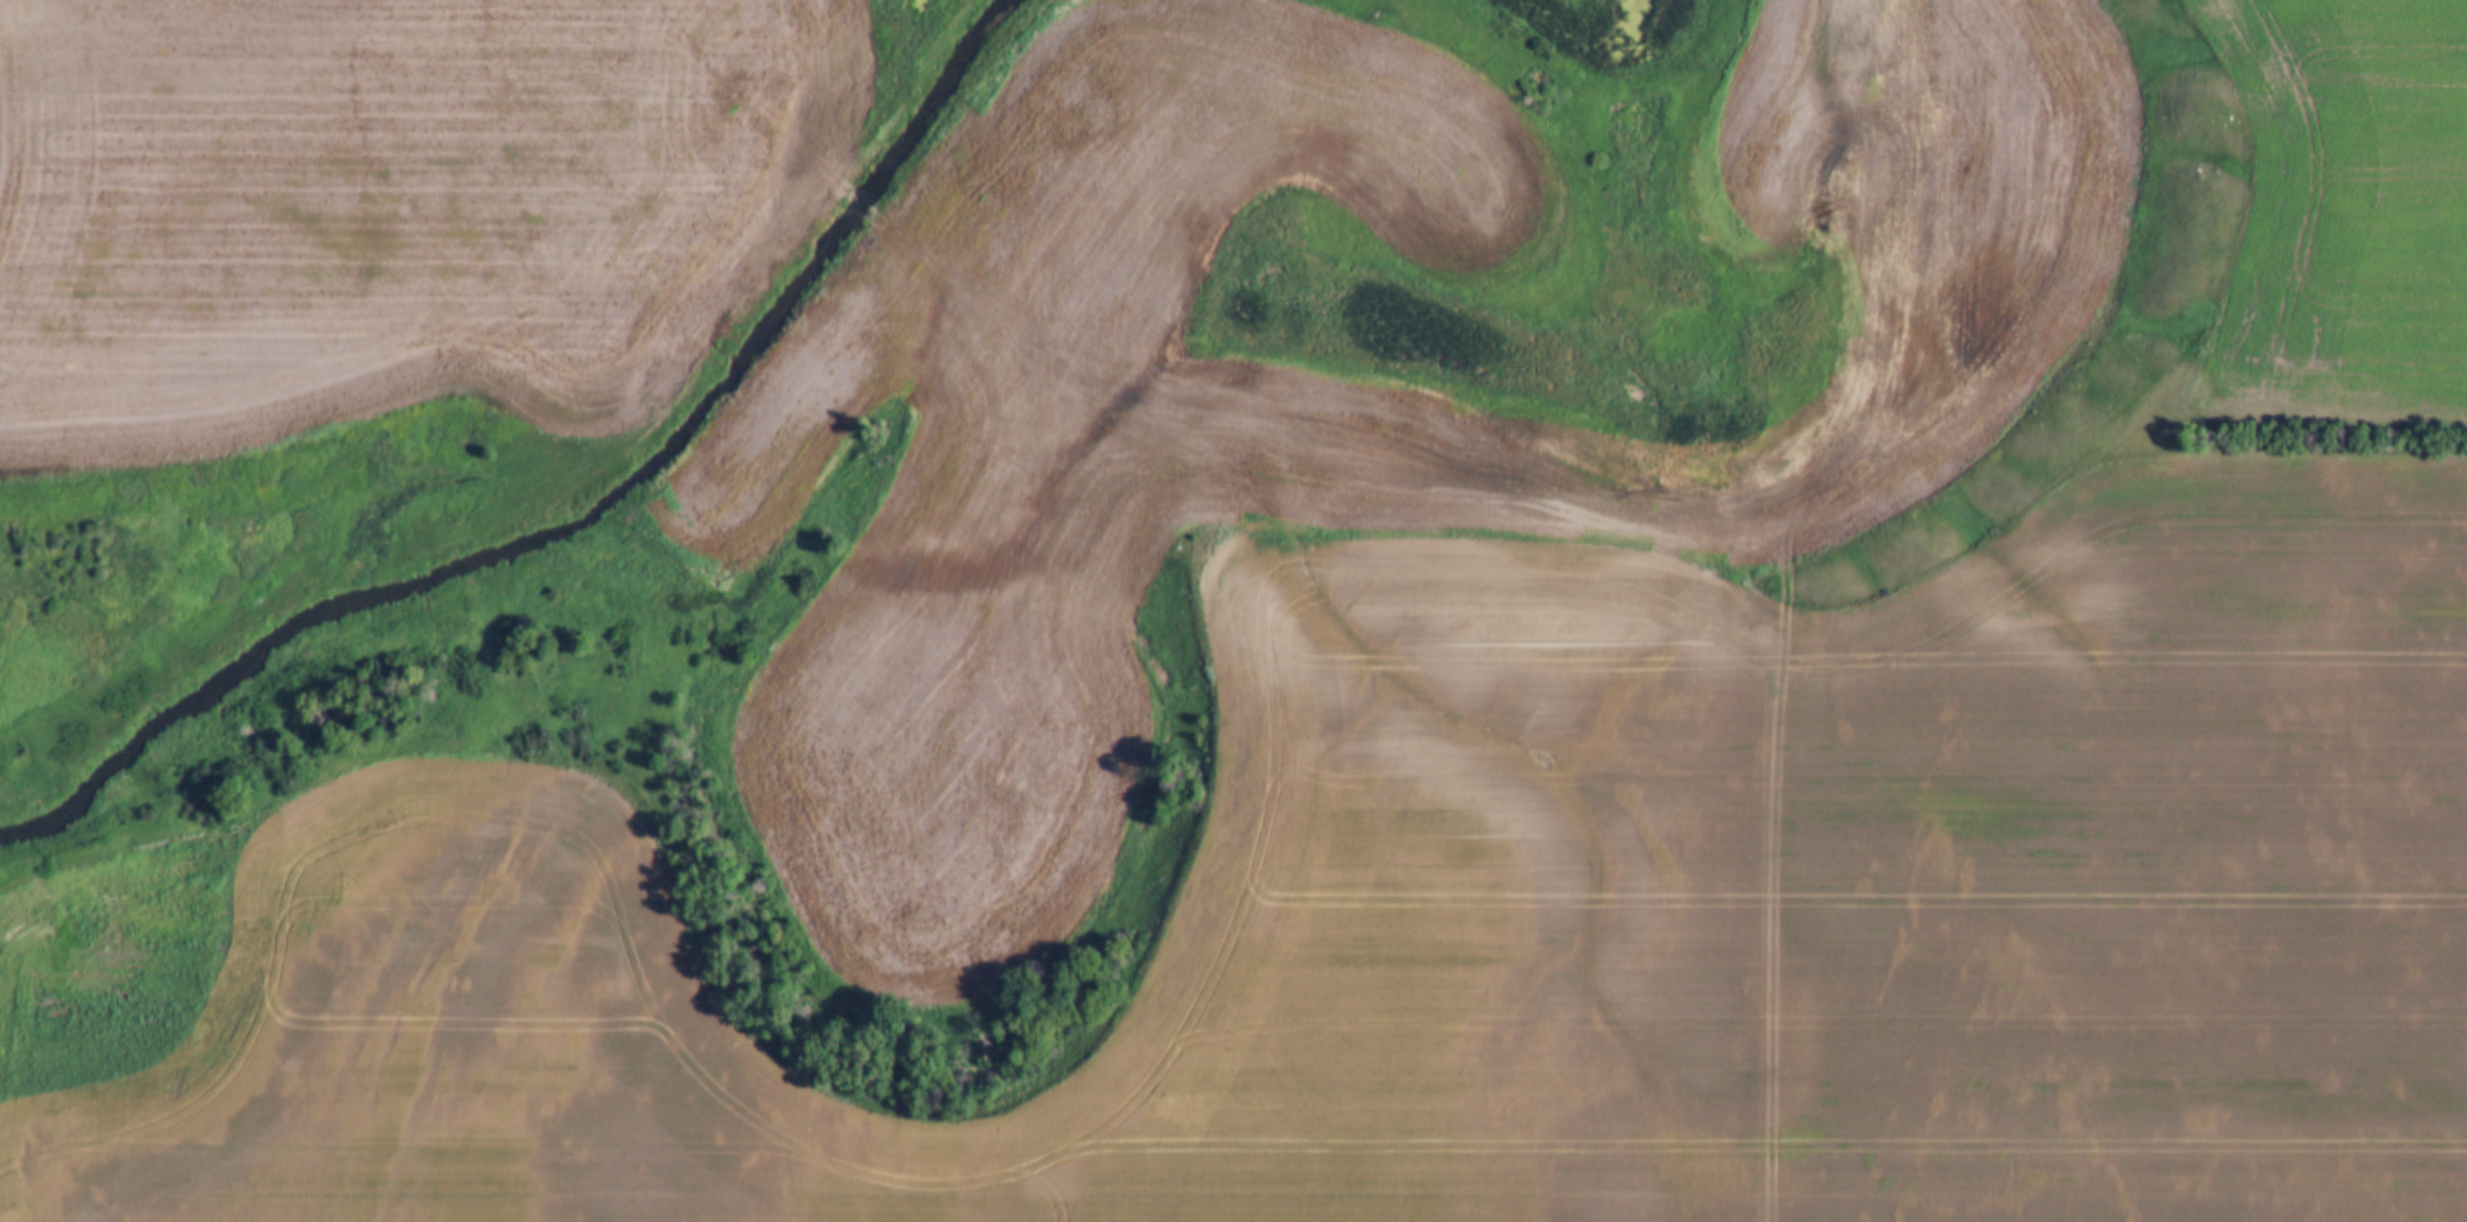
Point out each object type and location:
road: (1777, 701)

